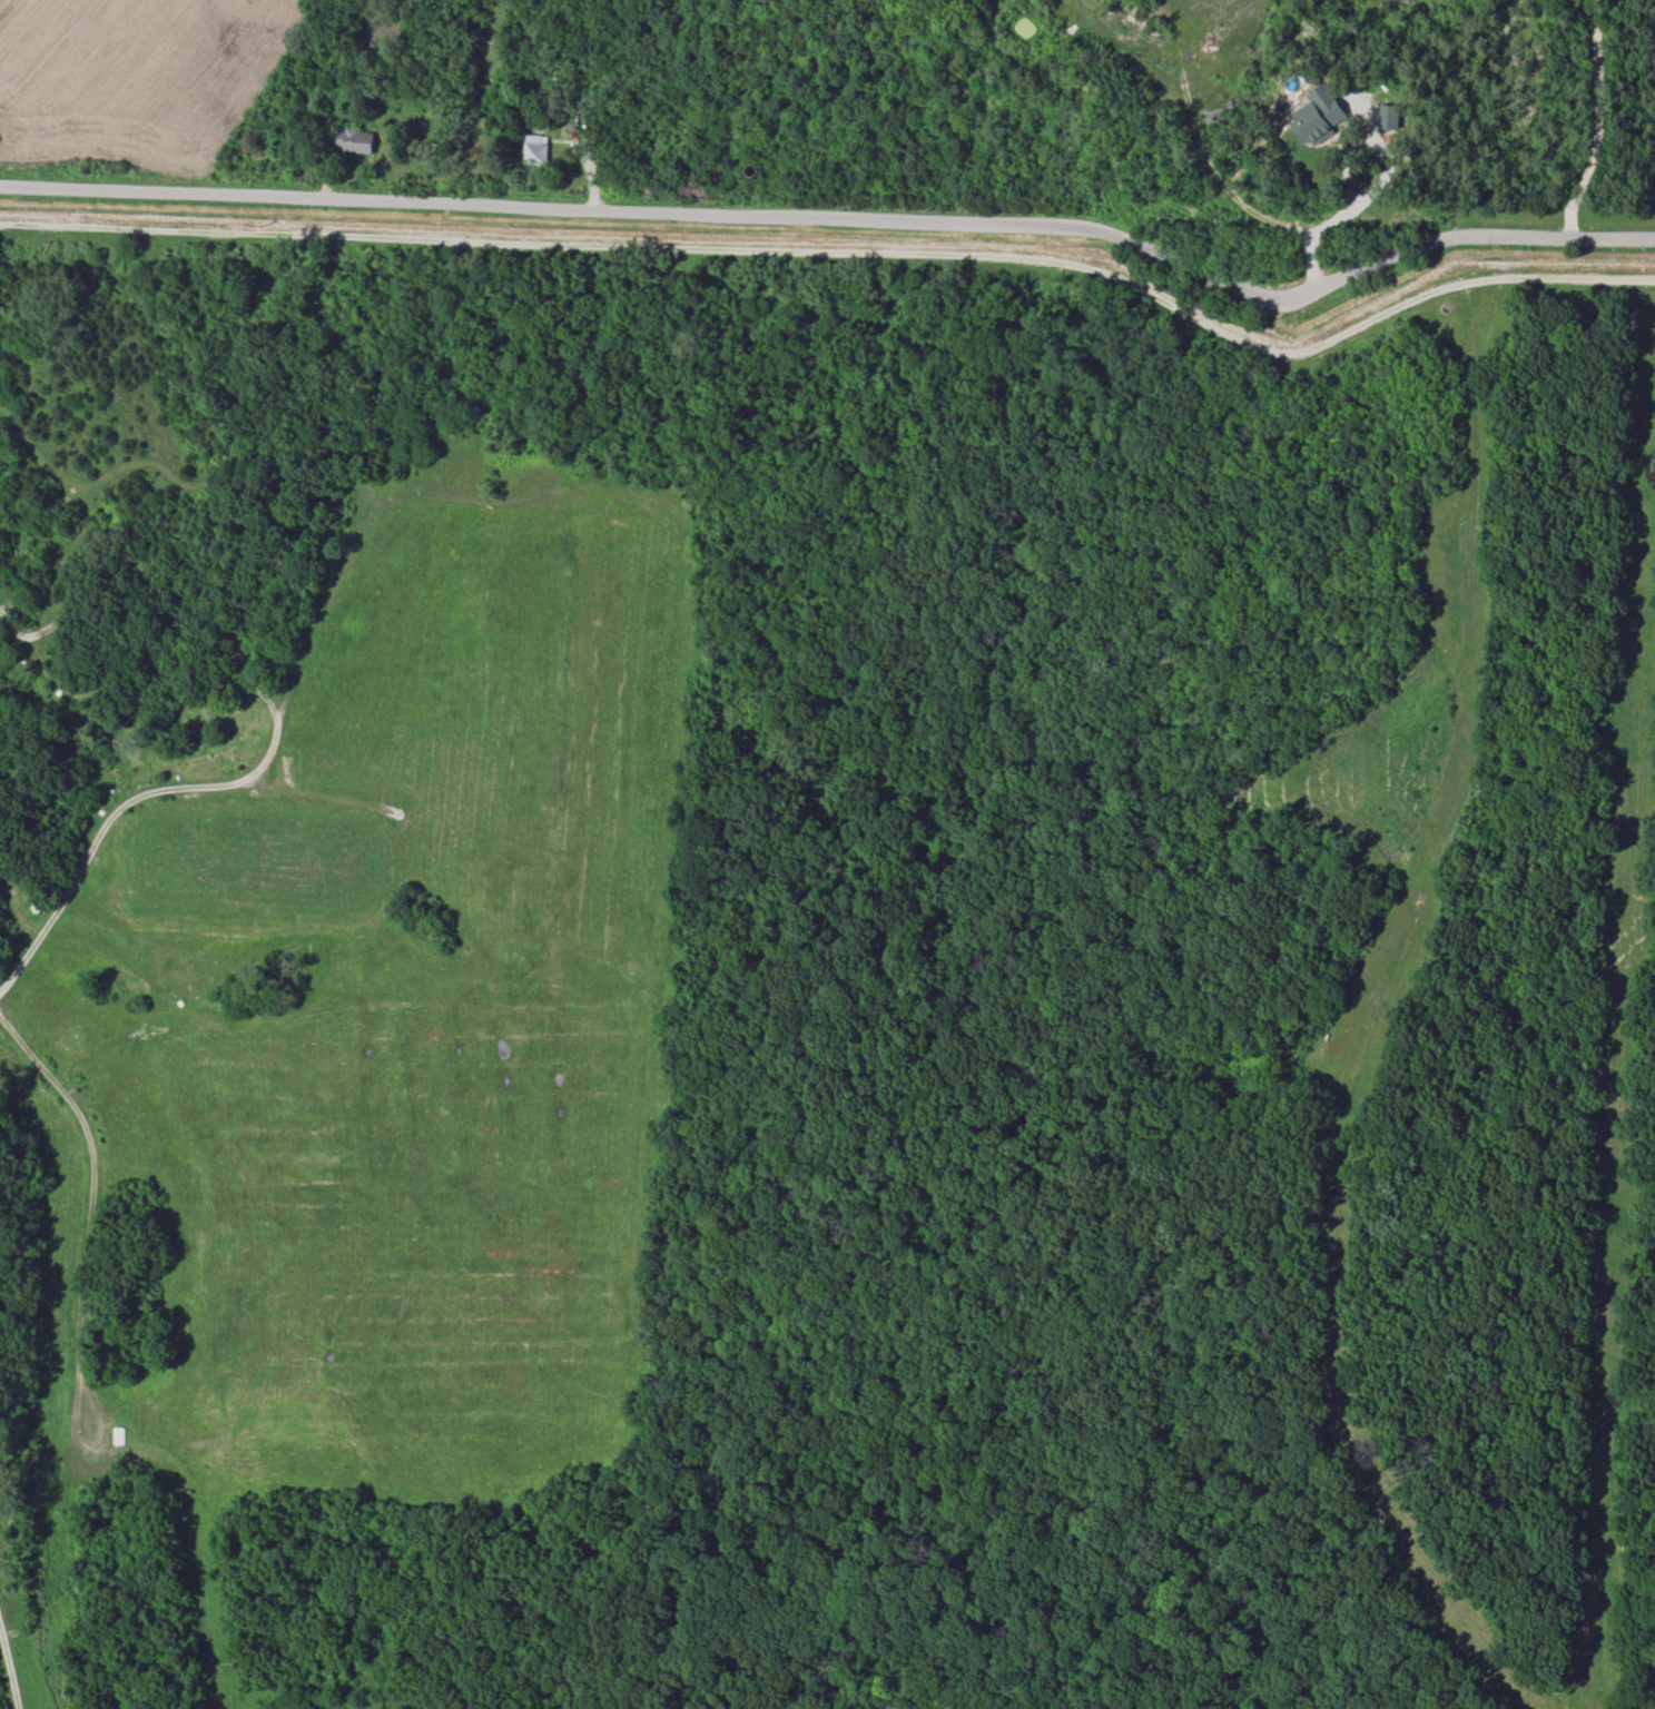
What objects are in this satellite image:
crop: (134, 85)
building: (1319, 115)
building: (1388, 117)
road: (1592, 119)
building: (353, 141)
building: (535, 150)
road: (1360, 200)
road: (840, 213)
road: (845, 251)
road: (268, 758)
road: (1619, 1039)
road: (90, 1204)
road: (9, 1668)

